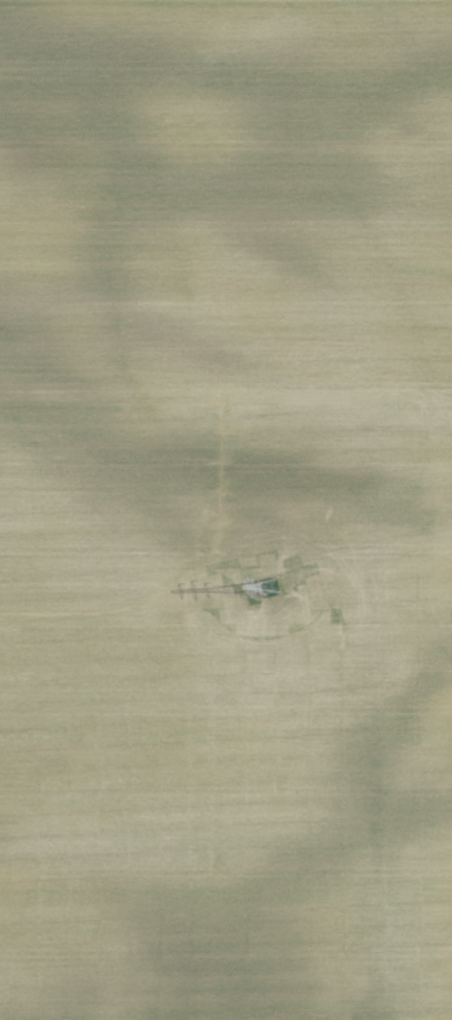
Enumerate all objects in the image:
power tower: (271, 586)

